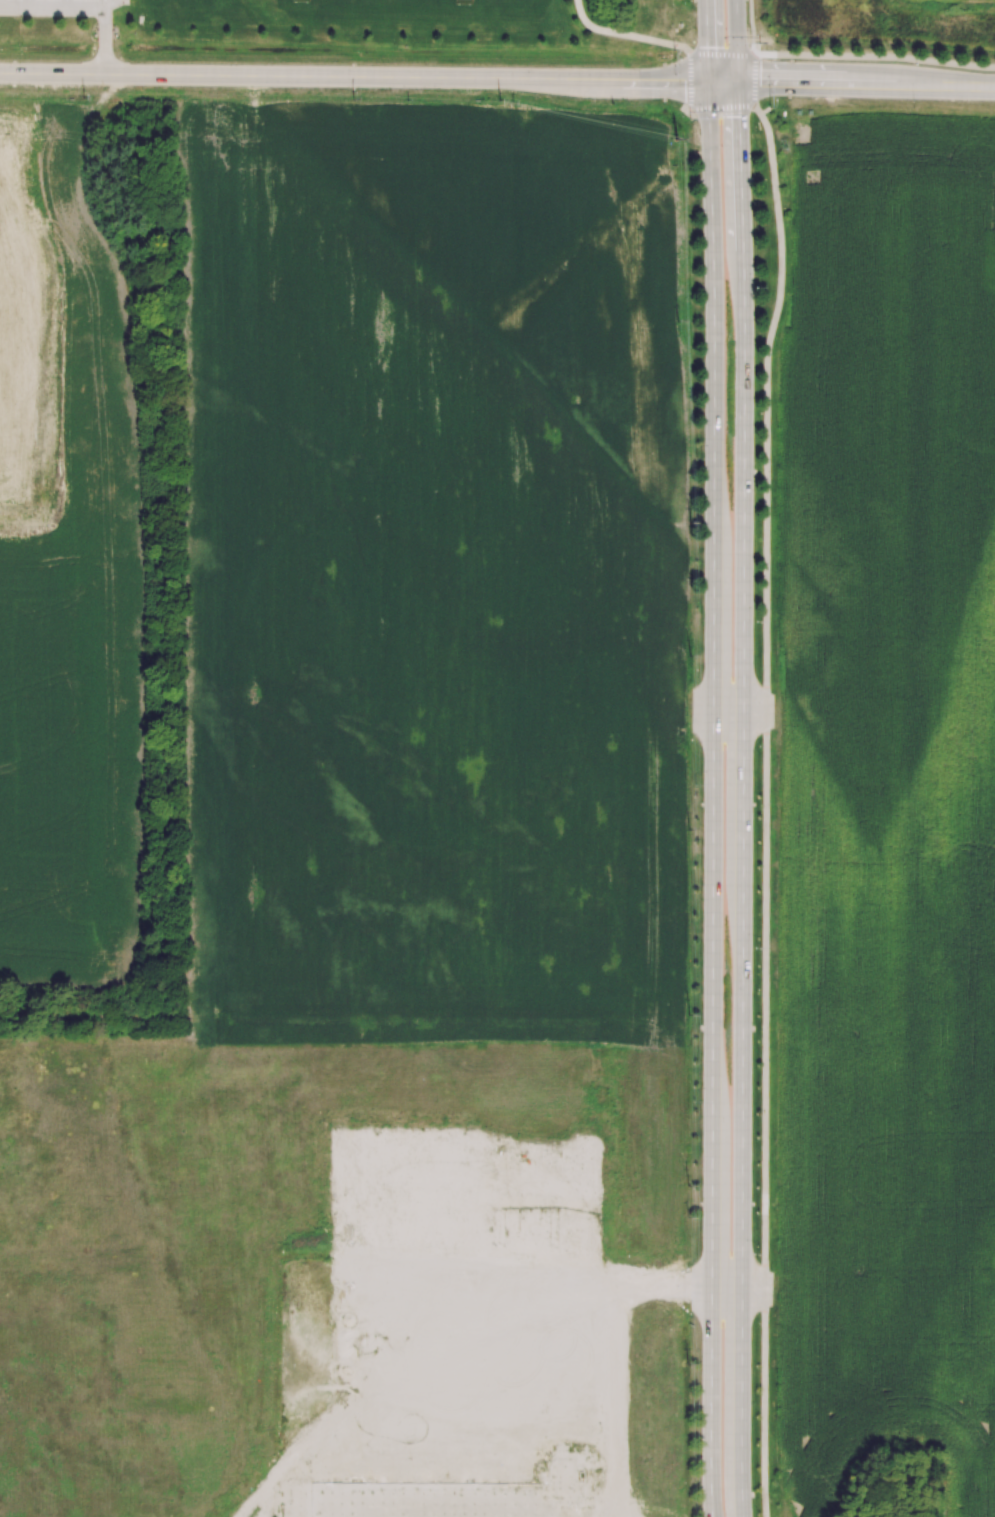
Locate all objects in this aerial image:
parking lot: (65, 1)
road: (29, 4)
road: (67, 4)
road: (105, 4)
park: (290, 8)
park: (464, 8)
road: (85, 9)
road: (751, 27)
road: (624, 37)
traffic signals: (706, 47)
road: (721, 55)
road: (874, 57)
road: (368, 77)
road: (753, 80)
traffic signals: (759, 82)
traffic signals: (684, 83)
road: (865, 83)
power tower: (499, 101)
road: (692, 110)
road: (764, 111)
traffic signals: (738, 116)
power tower: (677, 141)
road: (732, 712)
road: (711, 758)
road: (743, 758)
road: (765, 808)
road: (732, 1289)

